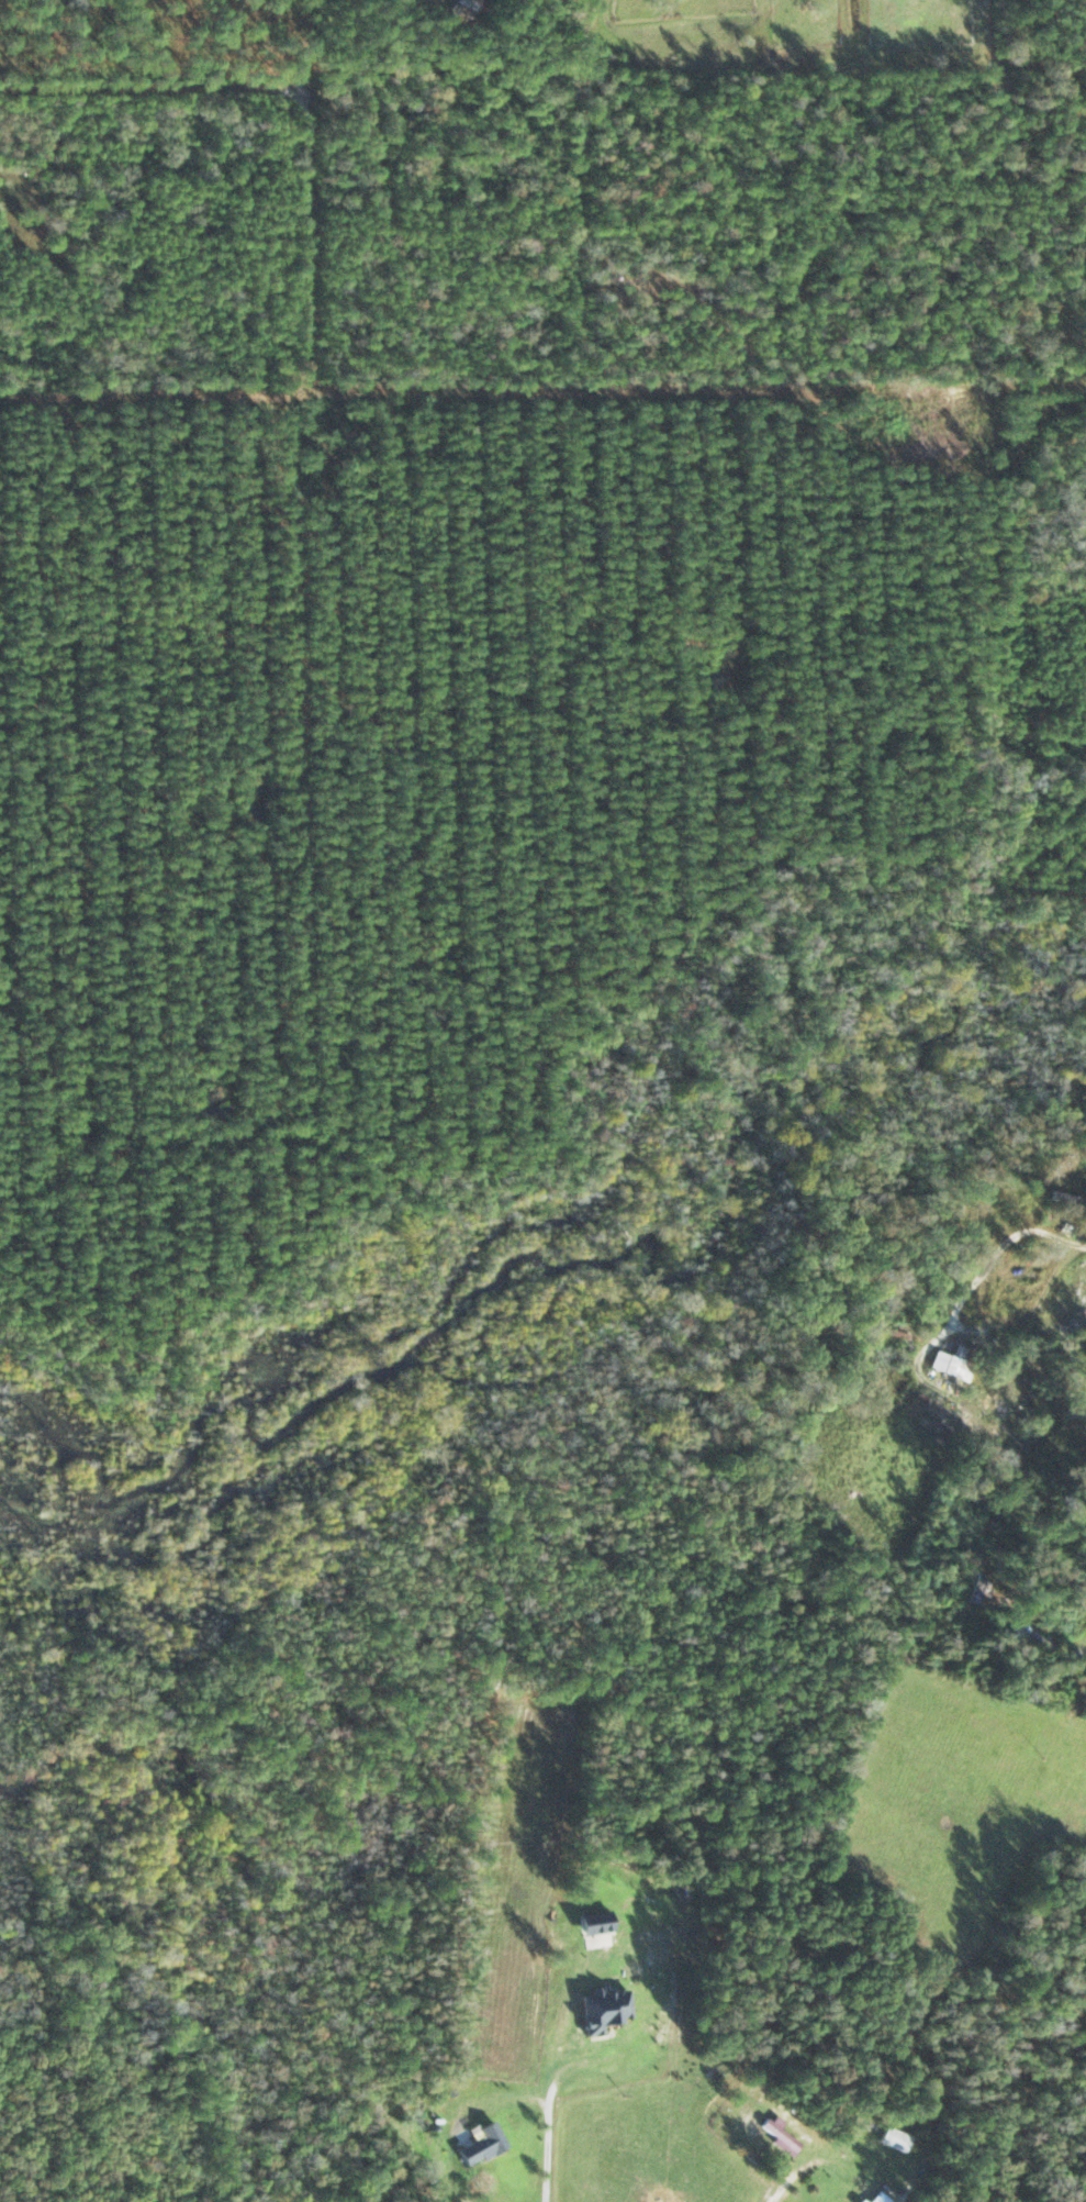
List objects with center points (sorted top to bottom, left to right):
road: (177, 65)
building: (1067, 1199)
building: (953, 1363)
road: (1012, 1616)
road: (678, 2075)
building: (777, 2133)
building: (482, 2146)
building: (882, 2198)
building: (863, 2201)

